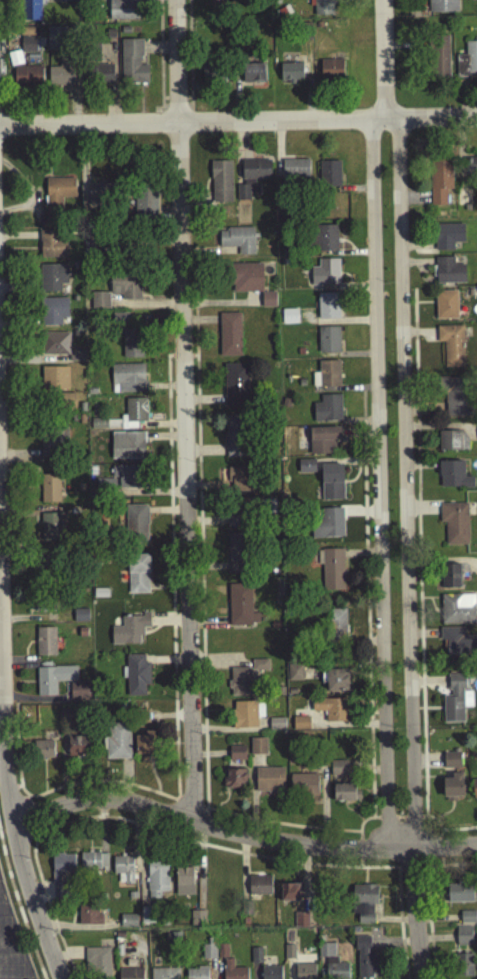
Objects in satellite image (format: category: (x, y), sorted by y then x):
building: (473, 0)
building: (65, 1)
building: (442, 7)
building: (322, 8)
building: (122, 11)
building: (30, 12)
building: (27, 43)
building: (55, 43)
road: (188, 57)
road: (159, 58)
building: (437, 60)
road: (381, 61)
building: (467, 64)
building: (132, 66)
building: (330, 73)
building: (291, 75)
building: (60, 77)
building: (212, 77)
building: (253, 77)
building: (27, 79)
building: (101, 80)
road: (175, 102)
road: (187, 102)
road: (163, 103)
road: (175, 110)
road: (187, 110)
road: (163, 111)
road: (190, 121)
road: (161, 122)
road: (238, 125)
building: (470, 171)
building: (295, 174)
building: (329, 177)
building: (250, 180)
building: (220, 185)
building: (439, 185)
building: (100, 198)
building: (57, 201)
building: (144, 207)
building: (447, 239)
building: (323, 241)
building: (237, 243)
building: (52, 247)
building: (448, 275)
building: (325, 276)
building: (52, 280)
building: (245, 281)
building: (125, 289)
building: (99, 304)
building: (267, 304)
building: (445, 308)
building: (327, 309)
building: (53, 314)
building: (288, 319)
building: (229, 337)
building: (328, 343)
building: (55, 347)
building: (131, 347)
building: (451, 348)
building: (76, 359)
road: (181, 360)
road: (192, 360)
building: (326, 378)
building: (54, 381)
building: (127, 382)
building: (235, 388)
building: (455, 400)
building: (65, 404)
building: (135, 412)
road: (182, 412)
building: (327, 412)
building: (234, 439)
building: (52, 443)
building: (322, 443)
building: (452, 445)
building: (127, 449)
building: (306, 469)
building: (236, 478)
building: (453, 478)
building: (121, 482)
building: (331, 485)
road: (377, 488)
road: (402, 488)
building: (49, 492)
building: (248, 511)
building: (454, 526)
building: (327, 527)
building: (135, 528)
building: (50, 531)
building: (236, 556)
road: (199, 563)
road: (417, 570)
building: (331, 572)
building: (55, 574)
building: (137, 577)
building: (450, 579)
road: (366, 607)
building: (240, 609)
building: (43, 610)
building: (457, 613)
building: (80, 619)
road: (168, 625)
building: (335, 627)
building: (129, 633)
road: (152, 633)
building: (44, 645)
building: (457, 645)
building: (259, 668)
building: (294, 676)
building: (136, 678)
building: (336, 684)
building: (239, 686)
building: (78, 692)
building: (455, 703)
road: (173, 708)
building: (332, 712)
building: (246, 718)
building: (276, 727)
building: (300, 727)
building: (116, 745)
building: (145, 747)
building: (77, 750)
building: (257, 750)
building: (41, 753)
building: (236, 757)
building: (451, 764)
building: (341, 772)
building: (234, 782)
building: (269, 784)
building: (303, 788)
building: (452, 789)
road: (16, 791)
road: (7, 792)
building: (474, 792)
building: (346, 796)
road: (25, 802)
road: (176, 804)
road: (188, 808)
road: (386, 822)
road: (399, 822)
road: (412, 822)
road: (423, 822)
road: (10, 823)
road: (26, 823)
road: (205, 825)
road: (360, 827)
road: (279, 828)
road: (455, 834)
road: (241, 837)
road: (32, 843)
road: (195, 846)
road: (435, 852)
road: (358, 855)
building: (93, 865)
road: (438, 866)
road: (358, 868)
building: (61, 870)
road: (447, 870)
building: (122, 873)
road: (399, 873)
road: (410, 874)
building: (156, 882)
building: (183, 884)
building: (259, 889)
building: (289, 896)
building: (459, 897)
building: (363, 906)
road: (2, 914)
road: (19, 915)
road: (413, 915)
building: (89, 918)
building: (467, 921)
building: (197, 922)
building: (300, 923)
building: (128, 925)
road: (428, 925)
building: (463, 939)
parking lot: (11, 946)
road: (9, 951)
building: (207, 955)
building: (289, 955)
building: (256, 959)
building: (366, 962)
building: (331, 964)
building: (97, 965)
building: (463, 968)
building: (232, 972)
building: (303, 973)
building: (270, 974)
building: (130, 975)
building: (164, 975)
building: (196, 975)

